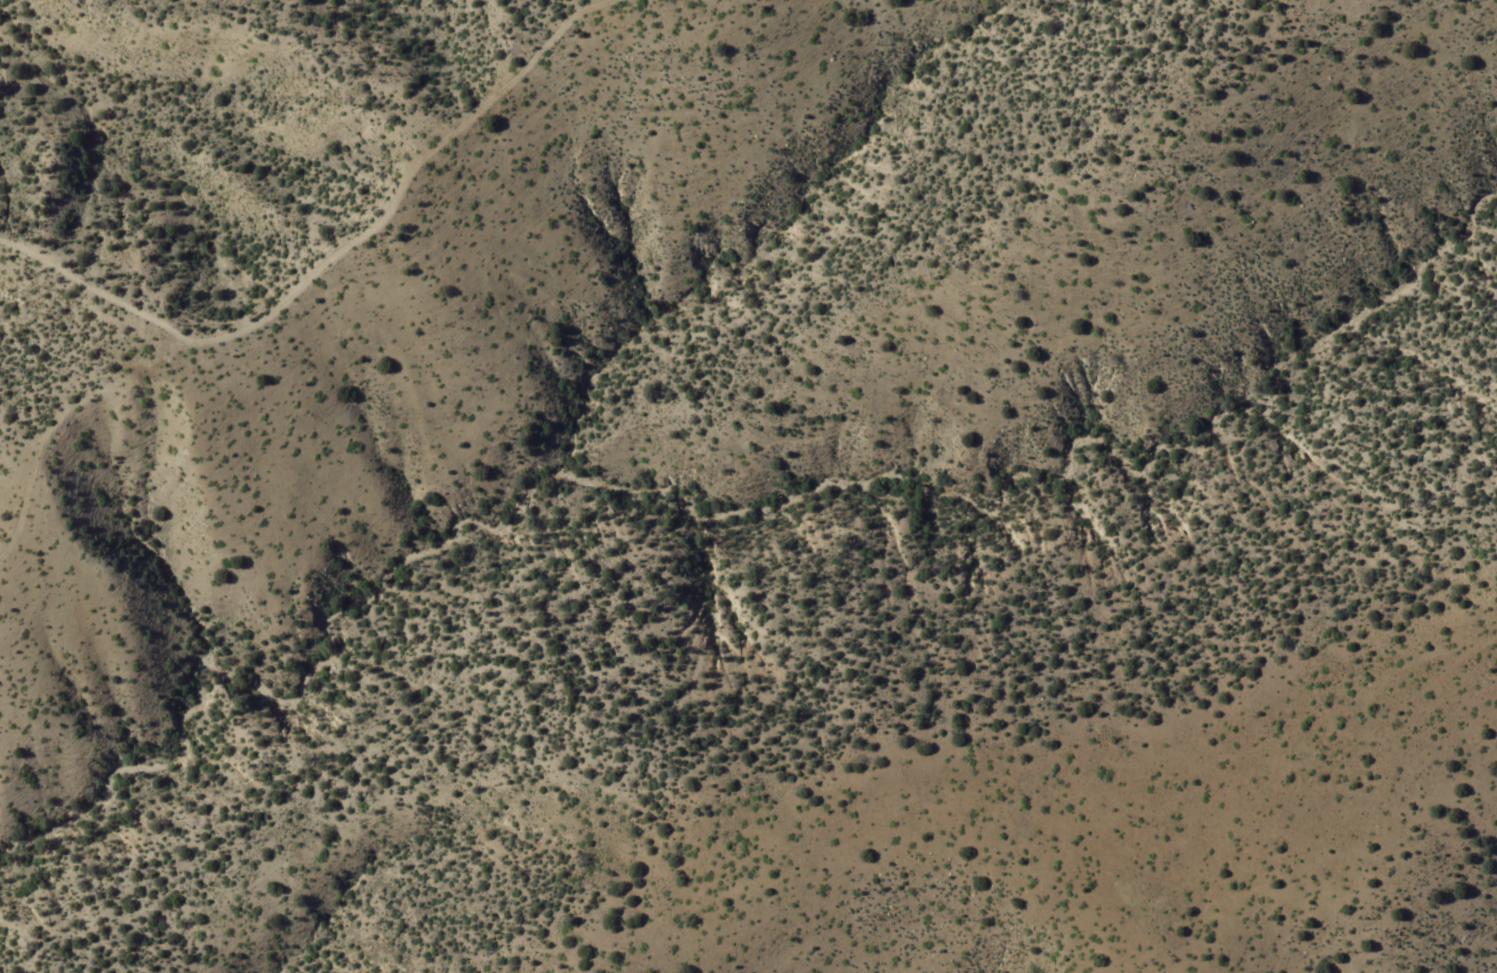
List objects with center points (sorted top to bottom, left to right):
road: (176, 67)
road: (252, 227)

